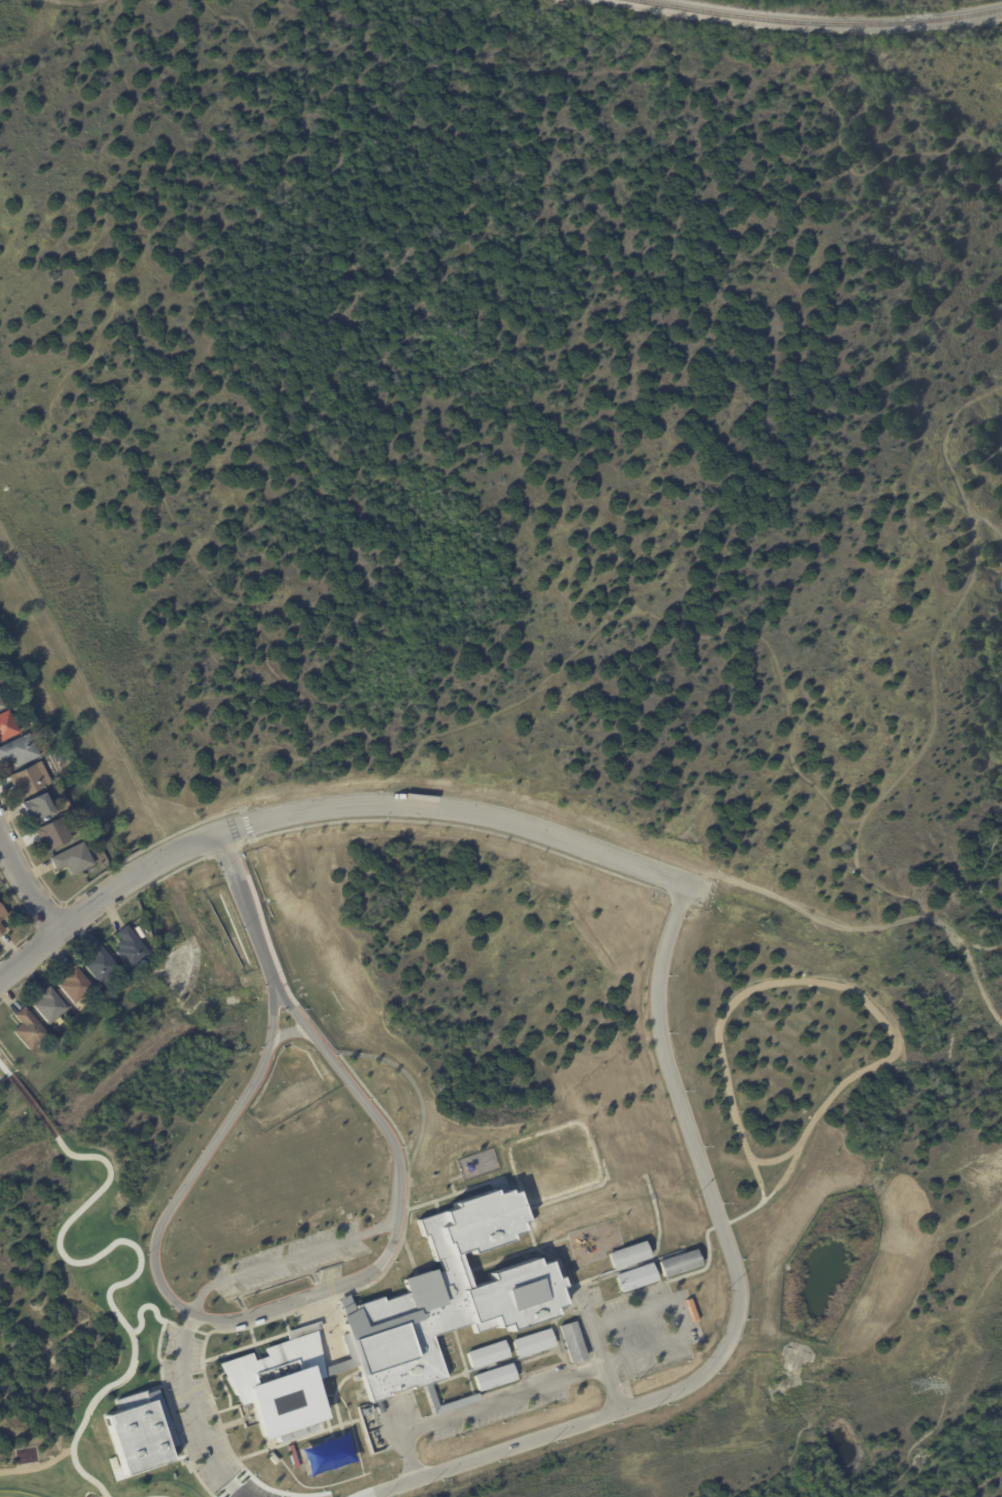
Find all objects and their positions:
railway: (820, 22)
building: (1, 681)
building: (0, 705)
building: (8, 725)
building: (18, 751)
building: (57, 776)
building: (26, 780)
building: (36, 807)
road: (455, 810)
road: (248, 830)
building: (49, 835)
building: (70, 859)
road: (132, 876)
road: (26, 888)
road: (244, 909)
building: (3, 914)
road: (870, 925)
building: (2, 930)
building: (127, 948)
road: (29, 955)
building: (94, 960)
building: (120, 975)
building: (72, 985)
road: (848, 989)
building: (47, 1006)
road: (293, 1011)
road: (271, 1015)
building: (25, 1029)
road: (288, 1031)
road: (5, 1070)
road: (0, 1071)
road: (412, 1082)
road: (34, 1101)
road: (376, 1114)
road: (773, 1160)
road: (189, 1181)
park: (490, 1191)
road: (404, 1214)
building: (626, 1256)
road: (294, 1257)
parking lot: (292, 1260)
building: (678, 1265)
road: (138, 1268)
building: (633, 1279)
road: (316, 1292)
building: (444, 1296)
road: (145, 1302)
road: (741, 1302)
road: (589, 1311)
road: (681, 1326)
road: (185, 1327)
road: (200, 1332)
parking lot: (645, 1333)
building: (567, 1343)
building: (528, 1345)
building: (483, 1356)
building: (491, 1378)
building: (275, 1385)
power tower: (921, 1386)
road: (504, 1397)
road: (169, 1405)
parking lot: (194, 1410)
road: (195, 1414)
building: (139, 1433)
road: (407, 1442)
road: (161, 1491)
park: (20, 1492)
road: (369, 1493)

